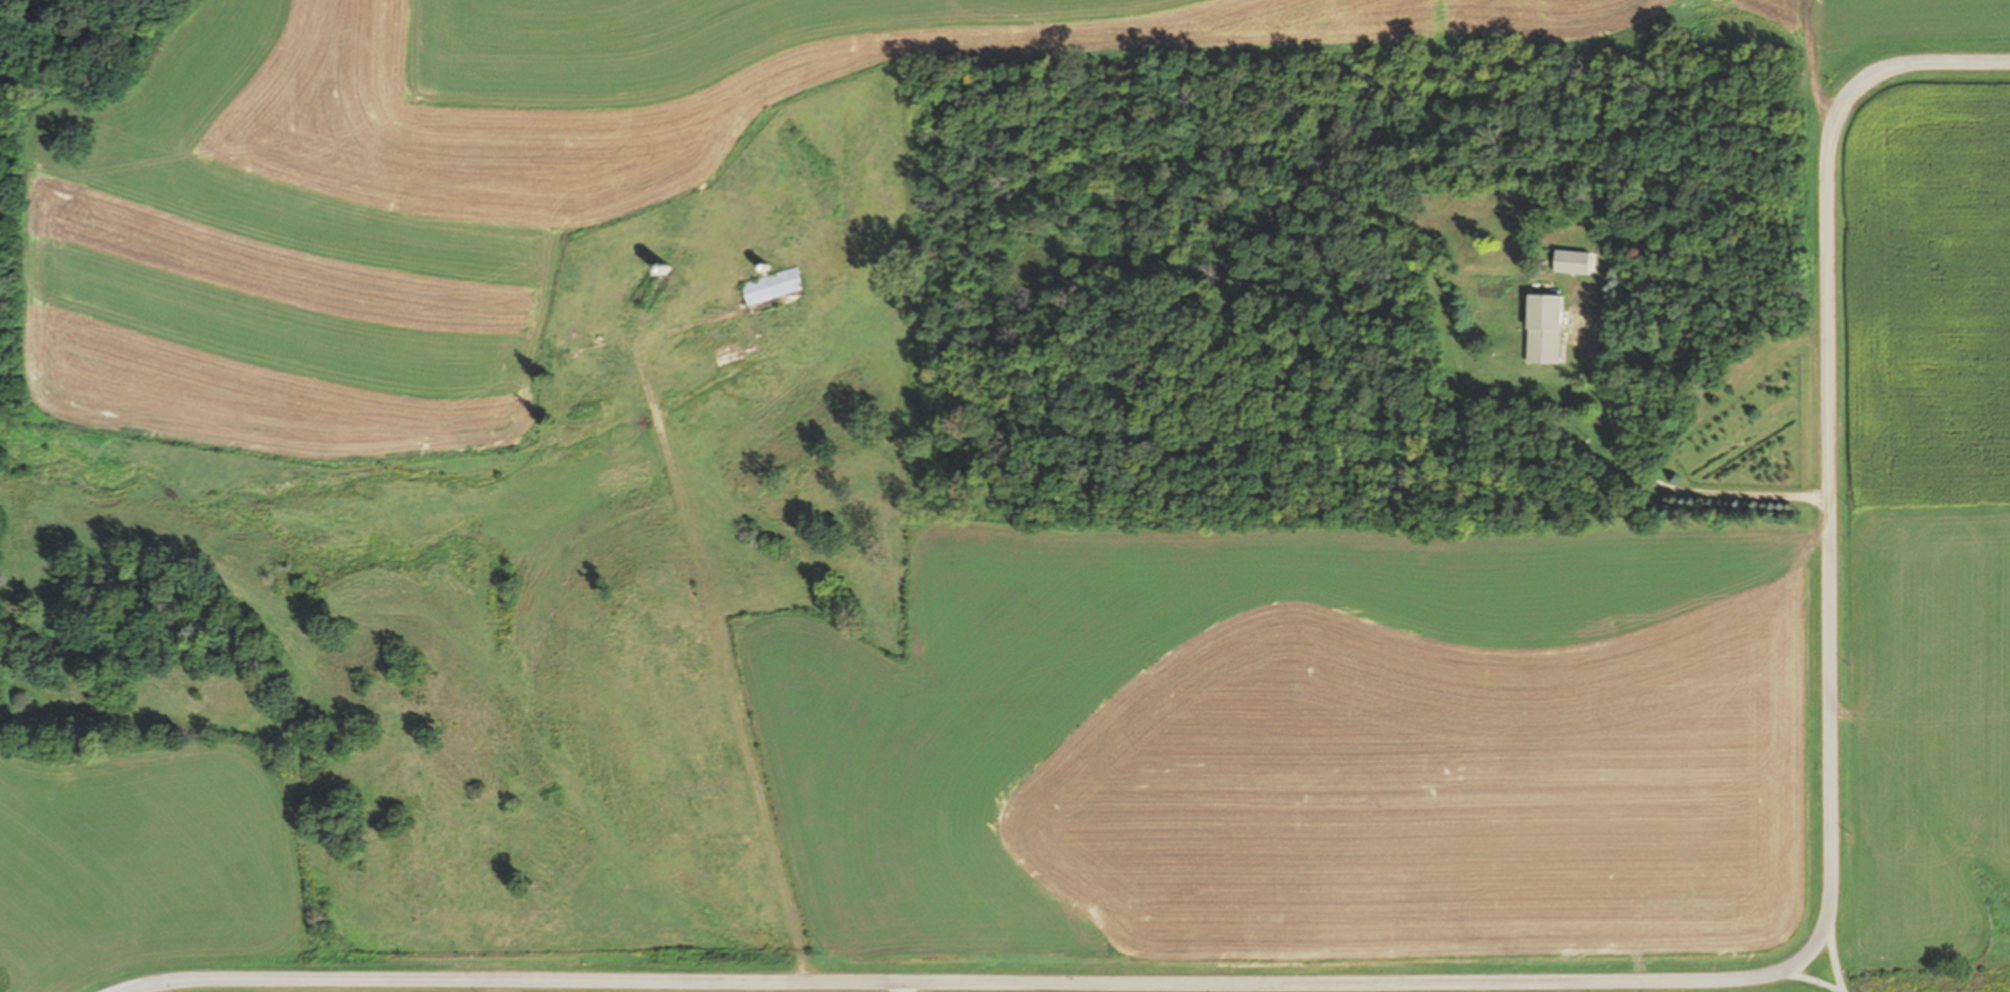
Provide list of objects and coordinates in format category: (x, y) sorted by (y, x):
building: (1571, 262)
building: (769, 285)
building: (1542, 329)
road: (751, 699)
road: (1825, 973)
road: (1488, 982)

